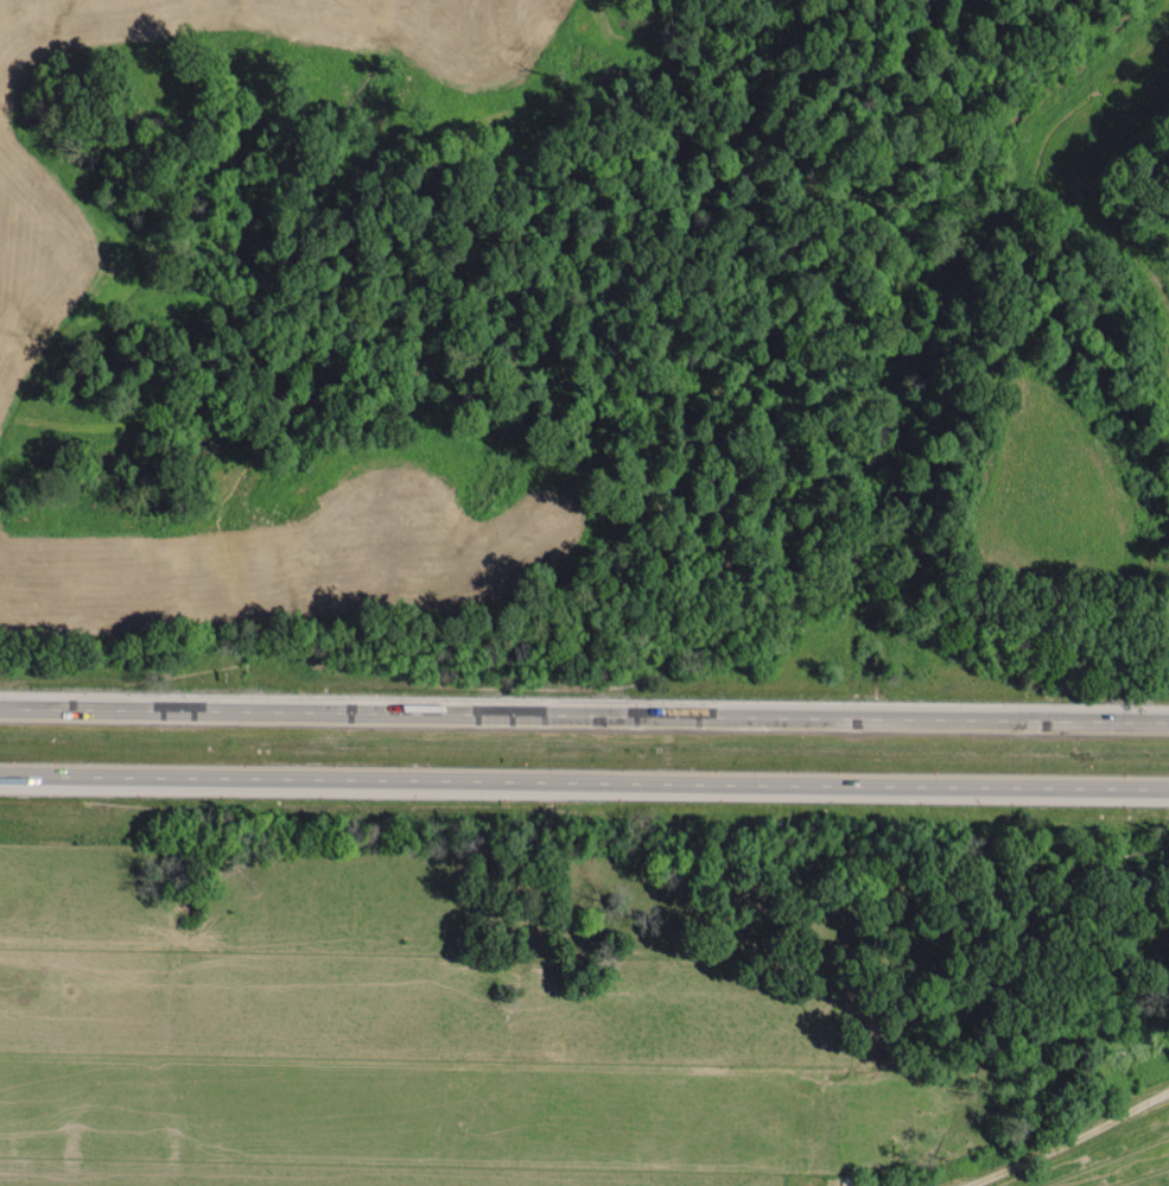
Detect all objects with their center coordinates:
road: (584, 711)
road: (584, 780)

